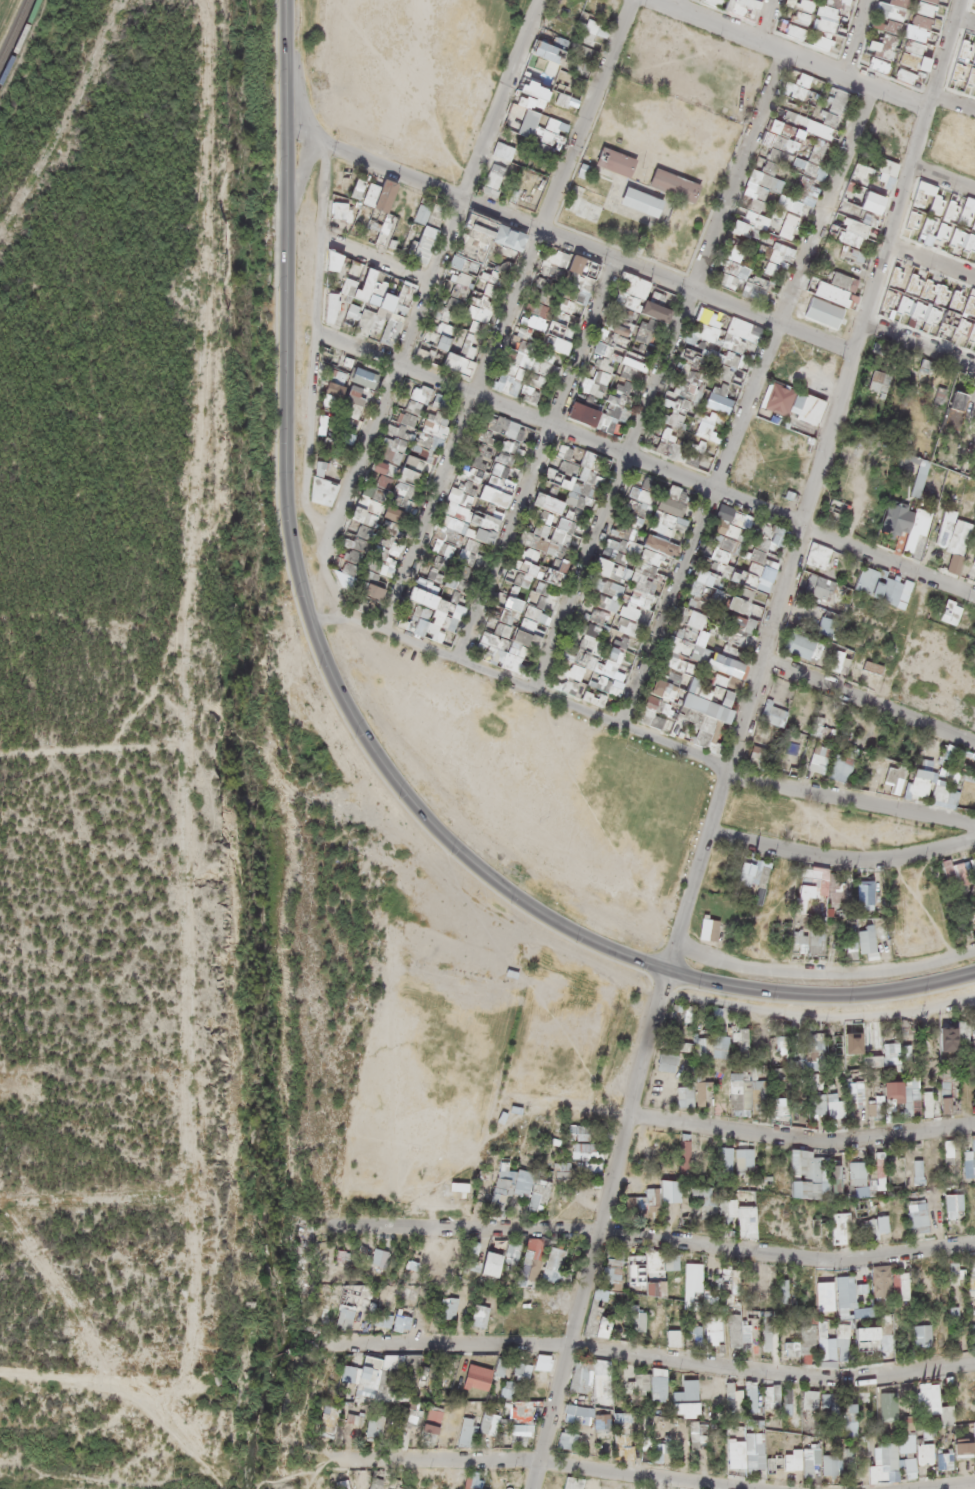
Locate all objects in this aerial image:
road: (349, 716)

